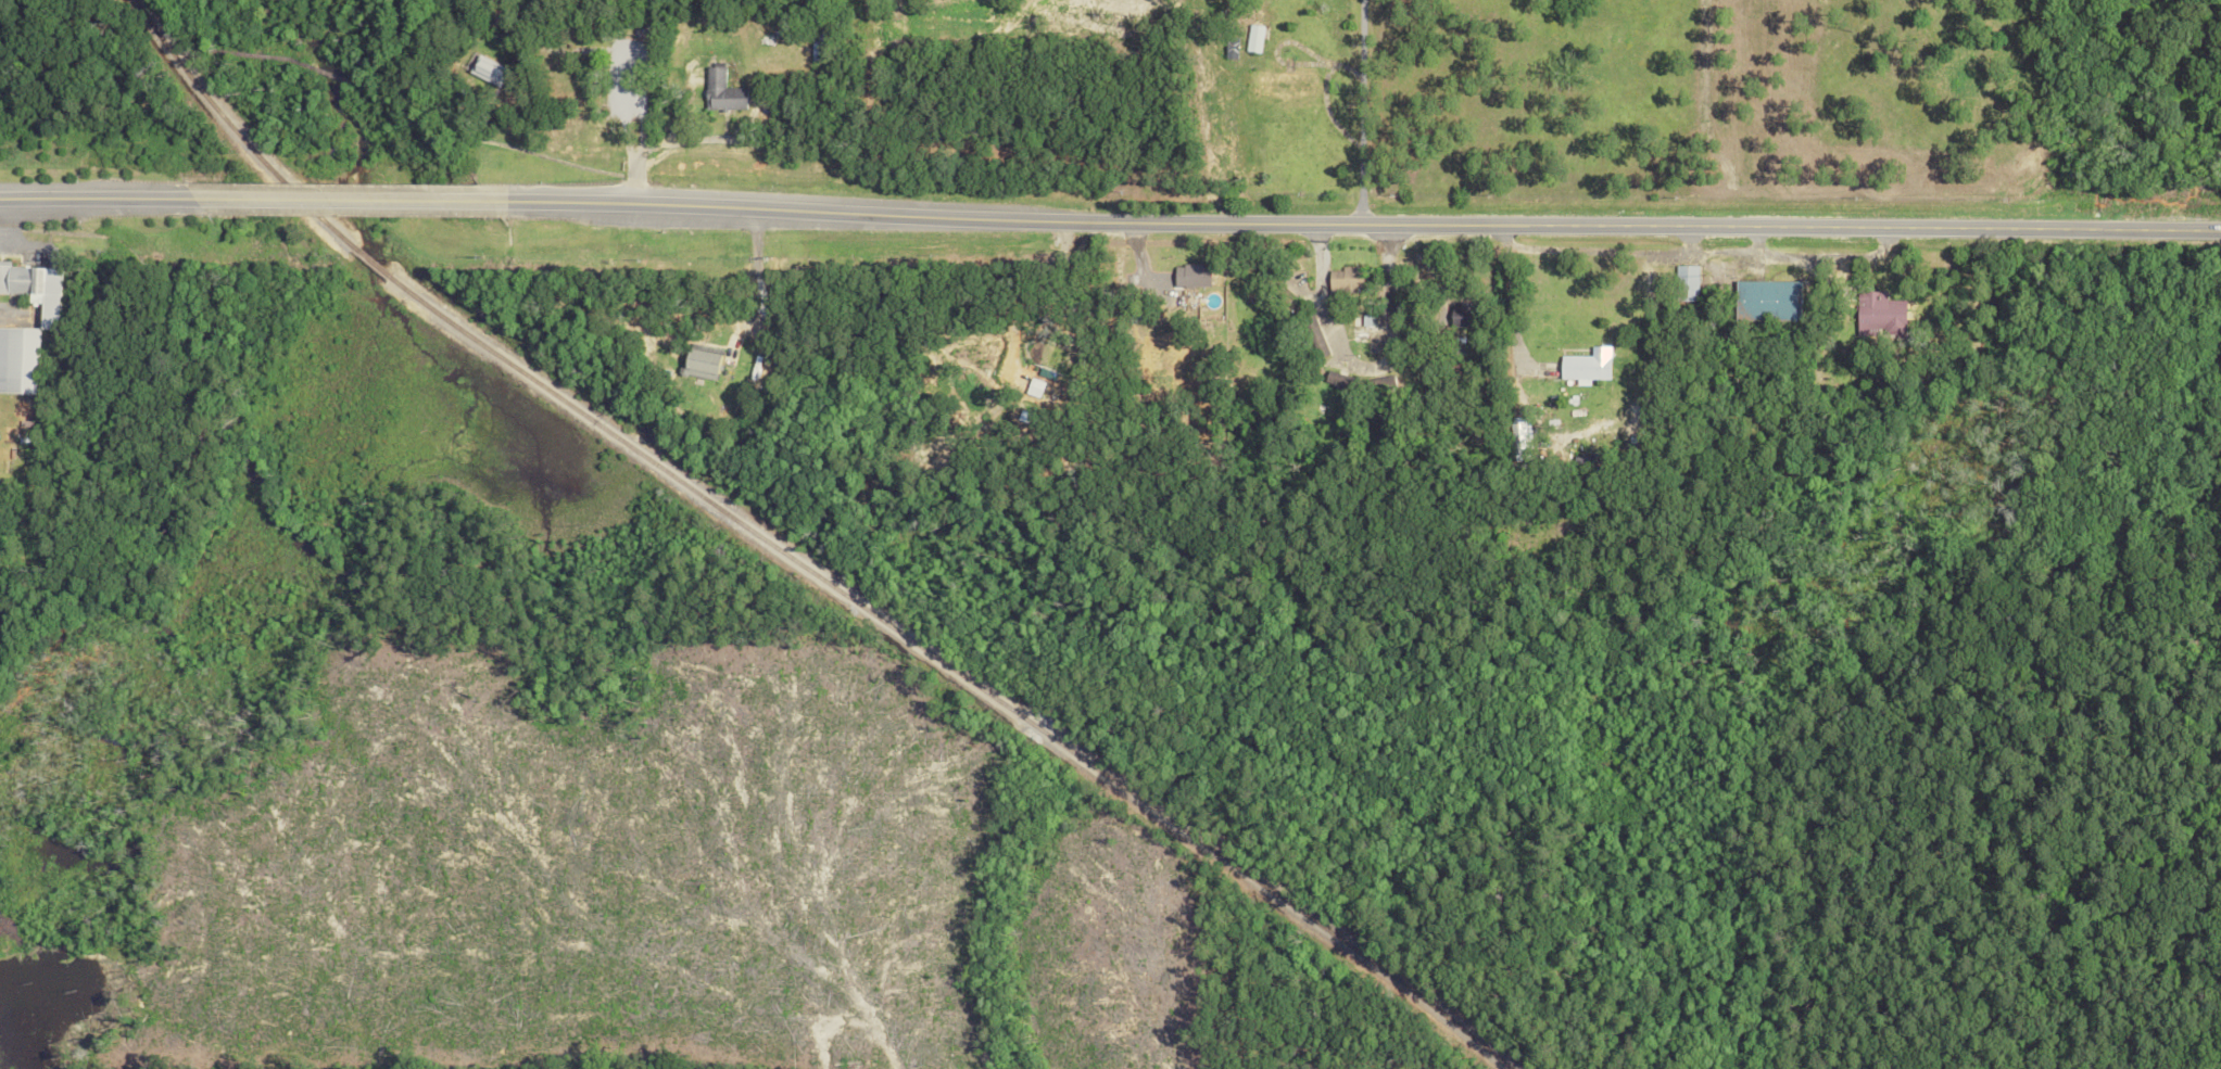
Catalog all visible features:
road: (212, 25)
building: (1253, 37)
building: (816, 43)
building: (487, 68)
park: (444, 80)
road: (376, 88)
building: (721, 91)
road: (1358, 112)
railway: (242, 131)
road: (96, 196)
road: (353, 198)
road: (9, 224)
road: (1367, 224)
railway: (379, 262)
building: (1189, 276)
building: (1348, 278)
road: (757, 279)
building: (1688, 282)
building: (34, 288)
building: (1768, 298)
road: (1505, 303)
railway: (438, 307)
building: (1462, 313)
building: (1880, 314)
building: (18, 359)
building: (702, 364)
road: (1356, 364)
building: (1588, 365)
building: (1336, 379)
building: (1034, 387)
building: (1519, 434)
railway: (996, 699)

